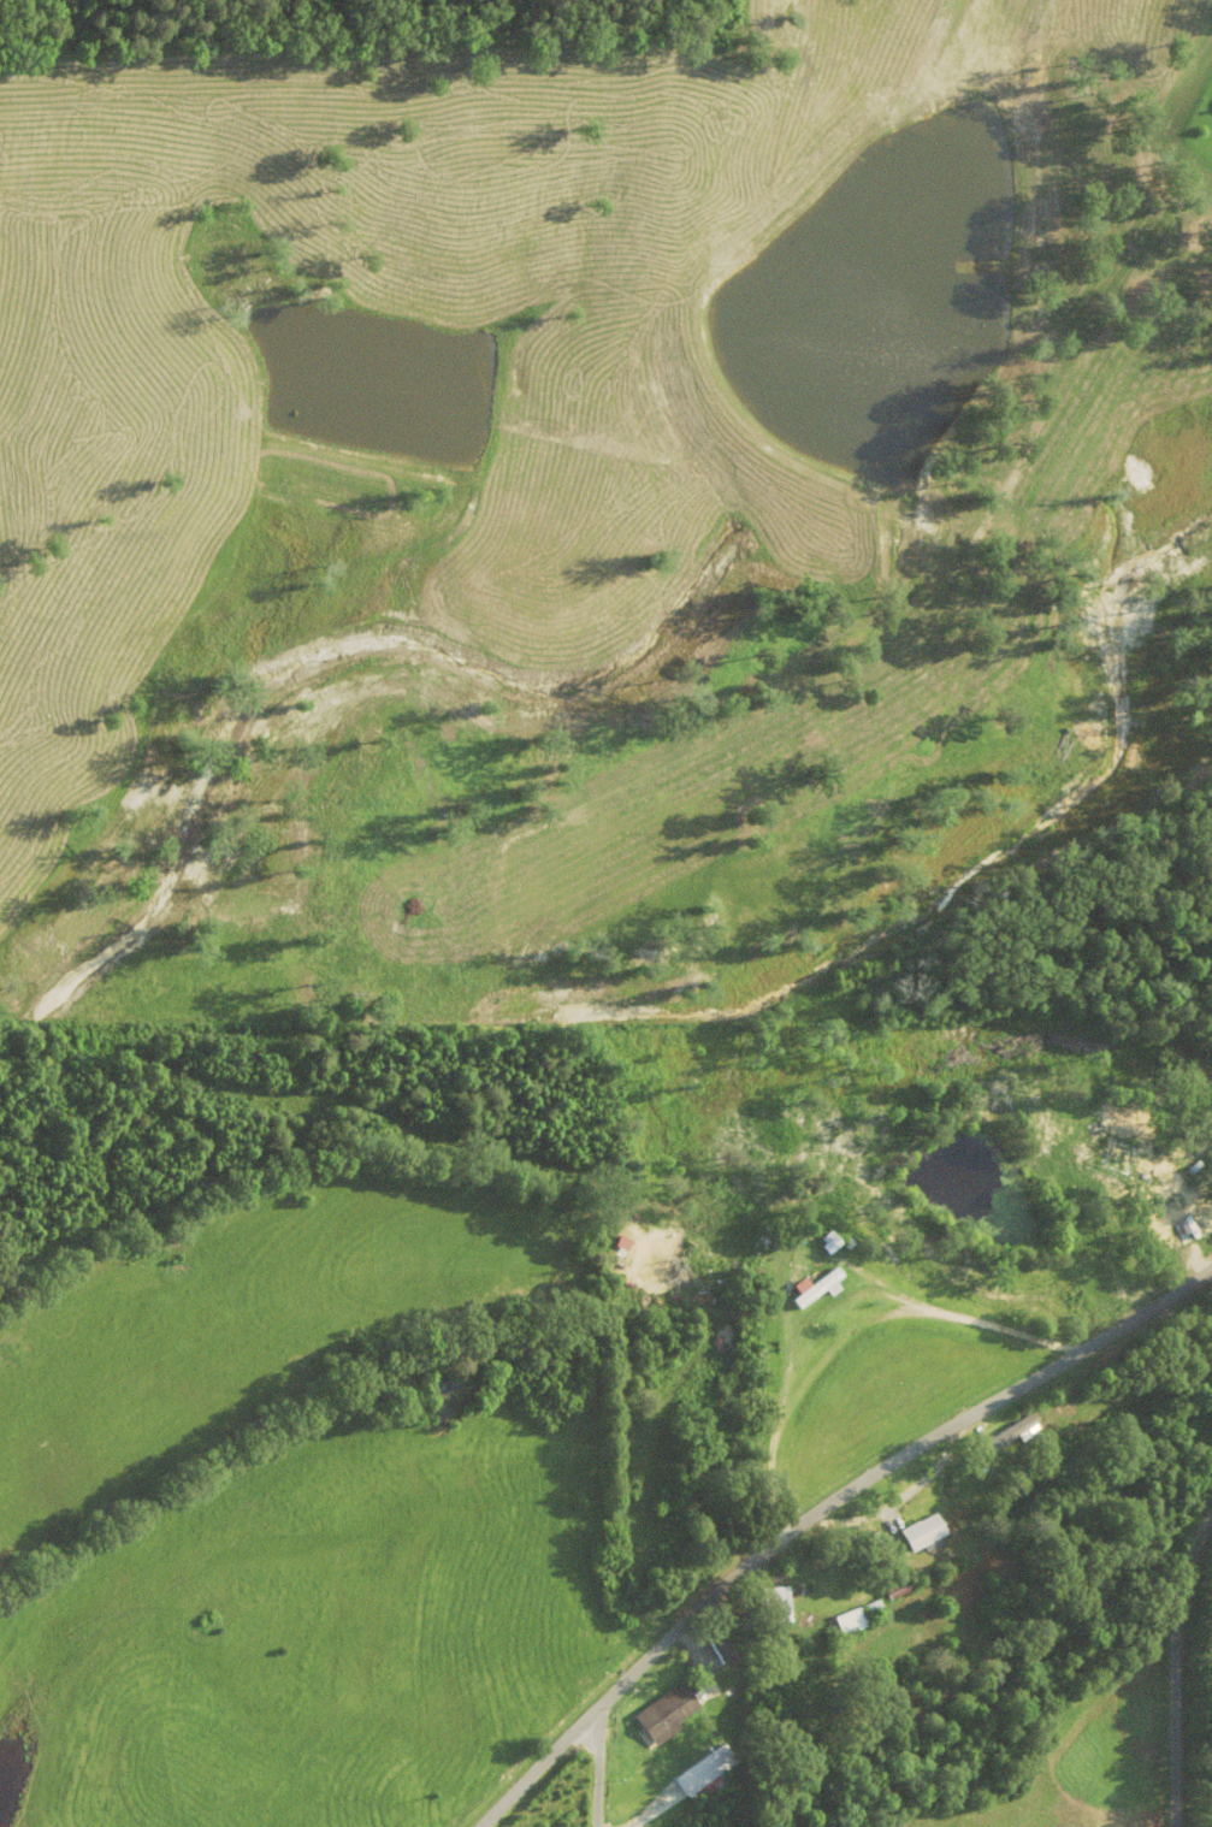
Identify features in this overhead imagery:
building: (1100, 1137)
building: (1196, 1220)
building: (829, 1246)
building: (820, 1290)
road: (1210, 1318)
building: (698, 1510)
road: (806, 1514)
building: (924, 1535)
building: (861, 1621)
building: (669, 1716)
road: (590, 1772)
building: (710, 1776)

